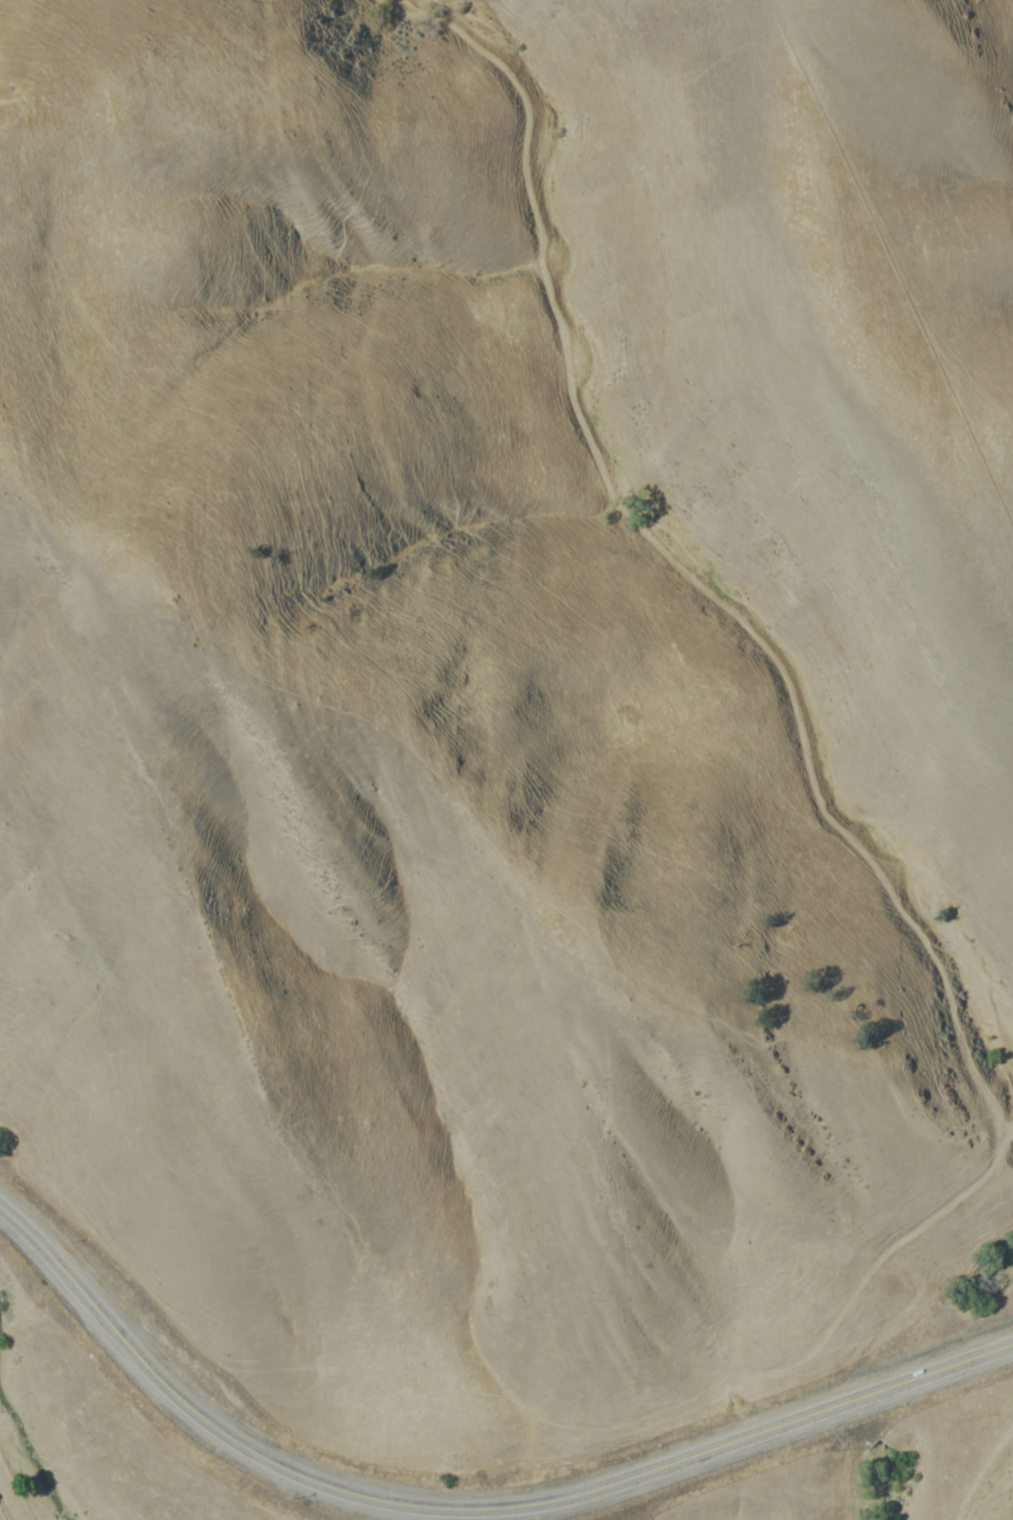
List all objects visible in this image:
road: (464, 1487)

